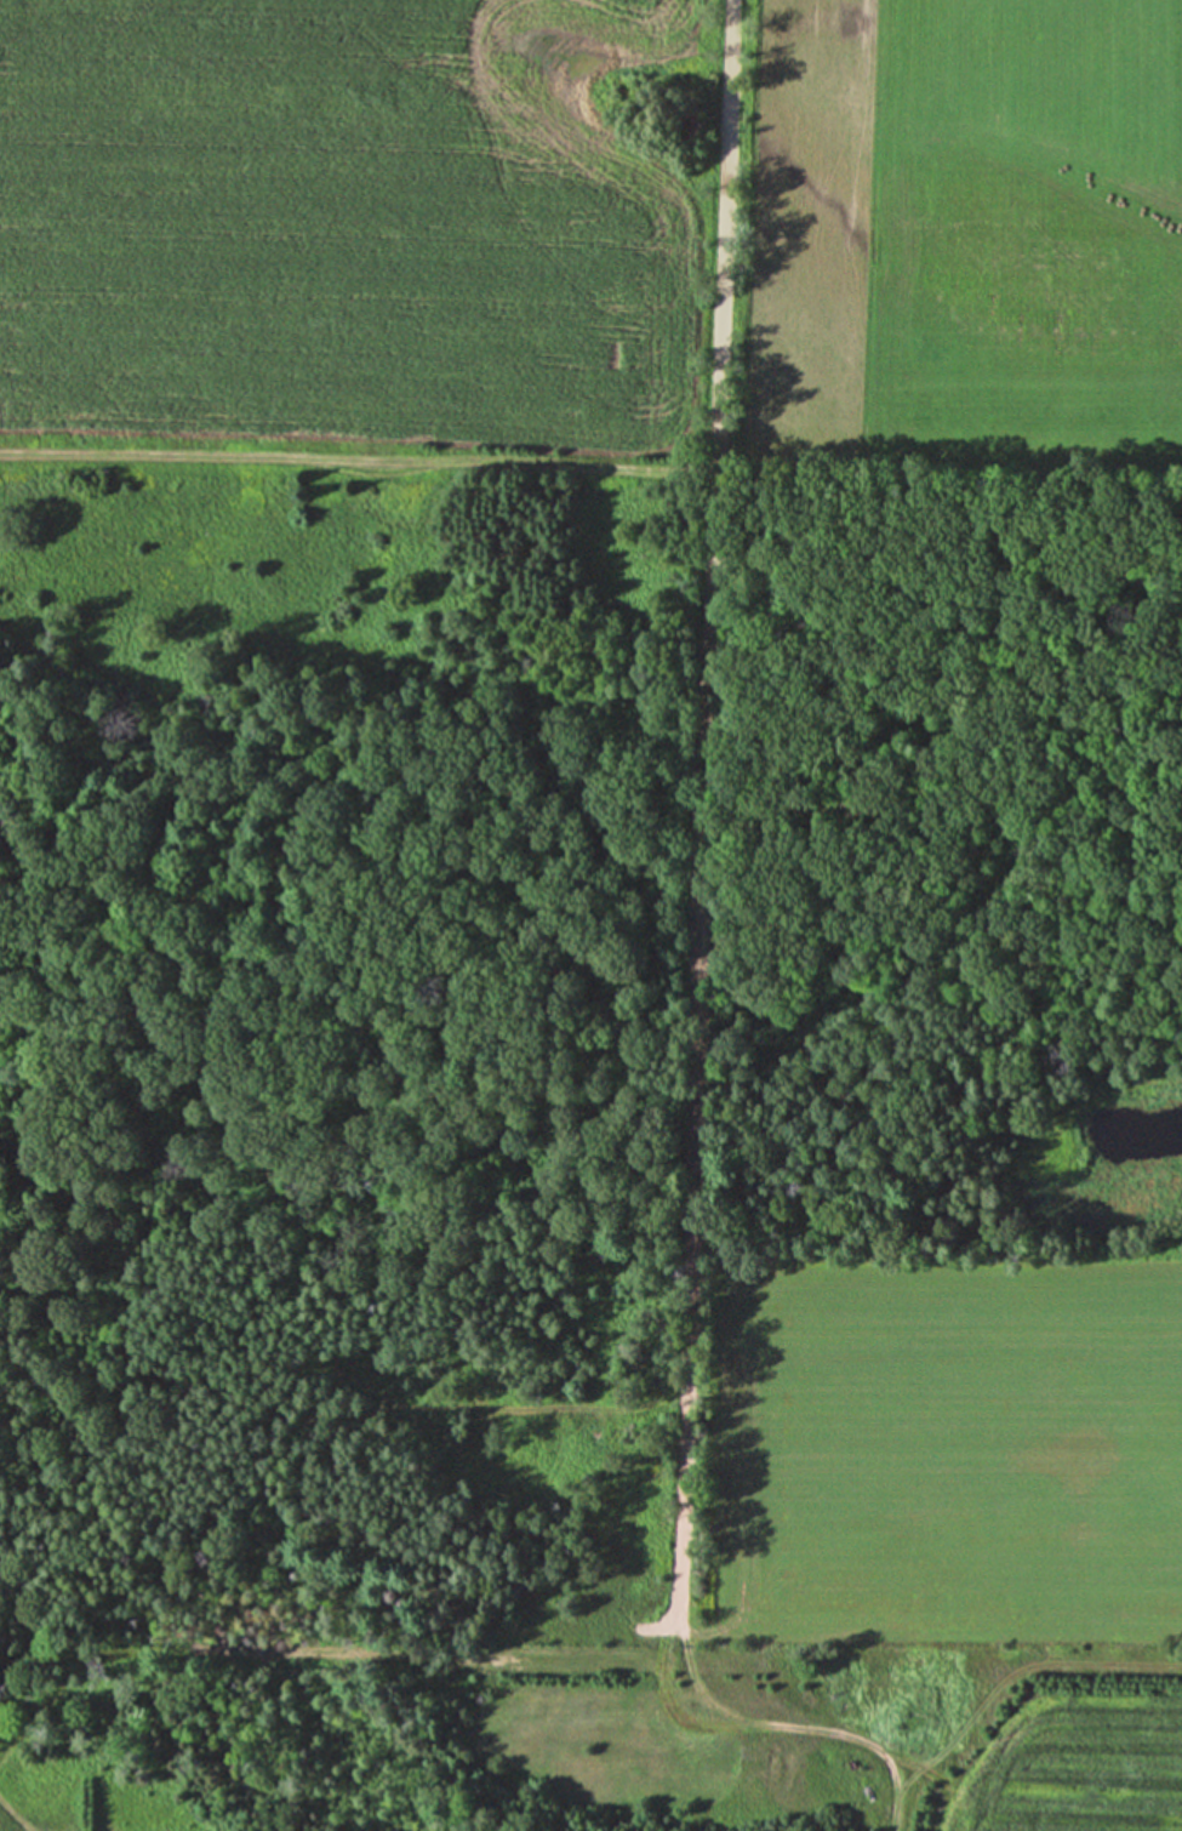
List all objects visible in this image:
road: (701, 782)
road: (764, 1722)

